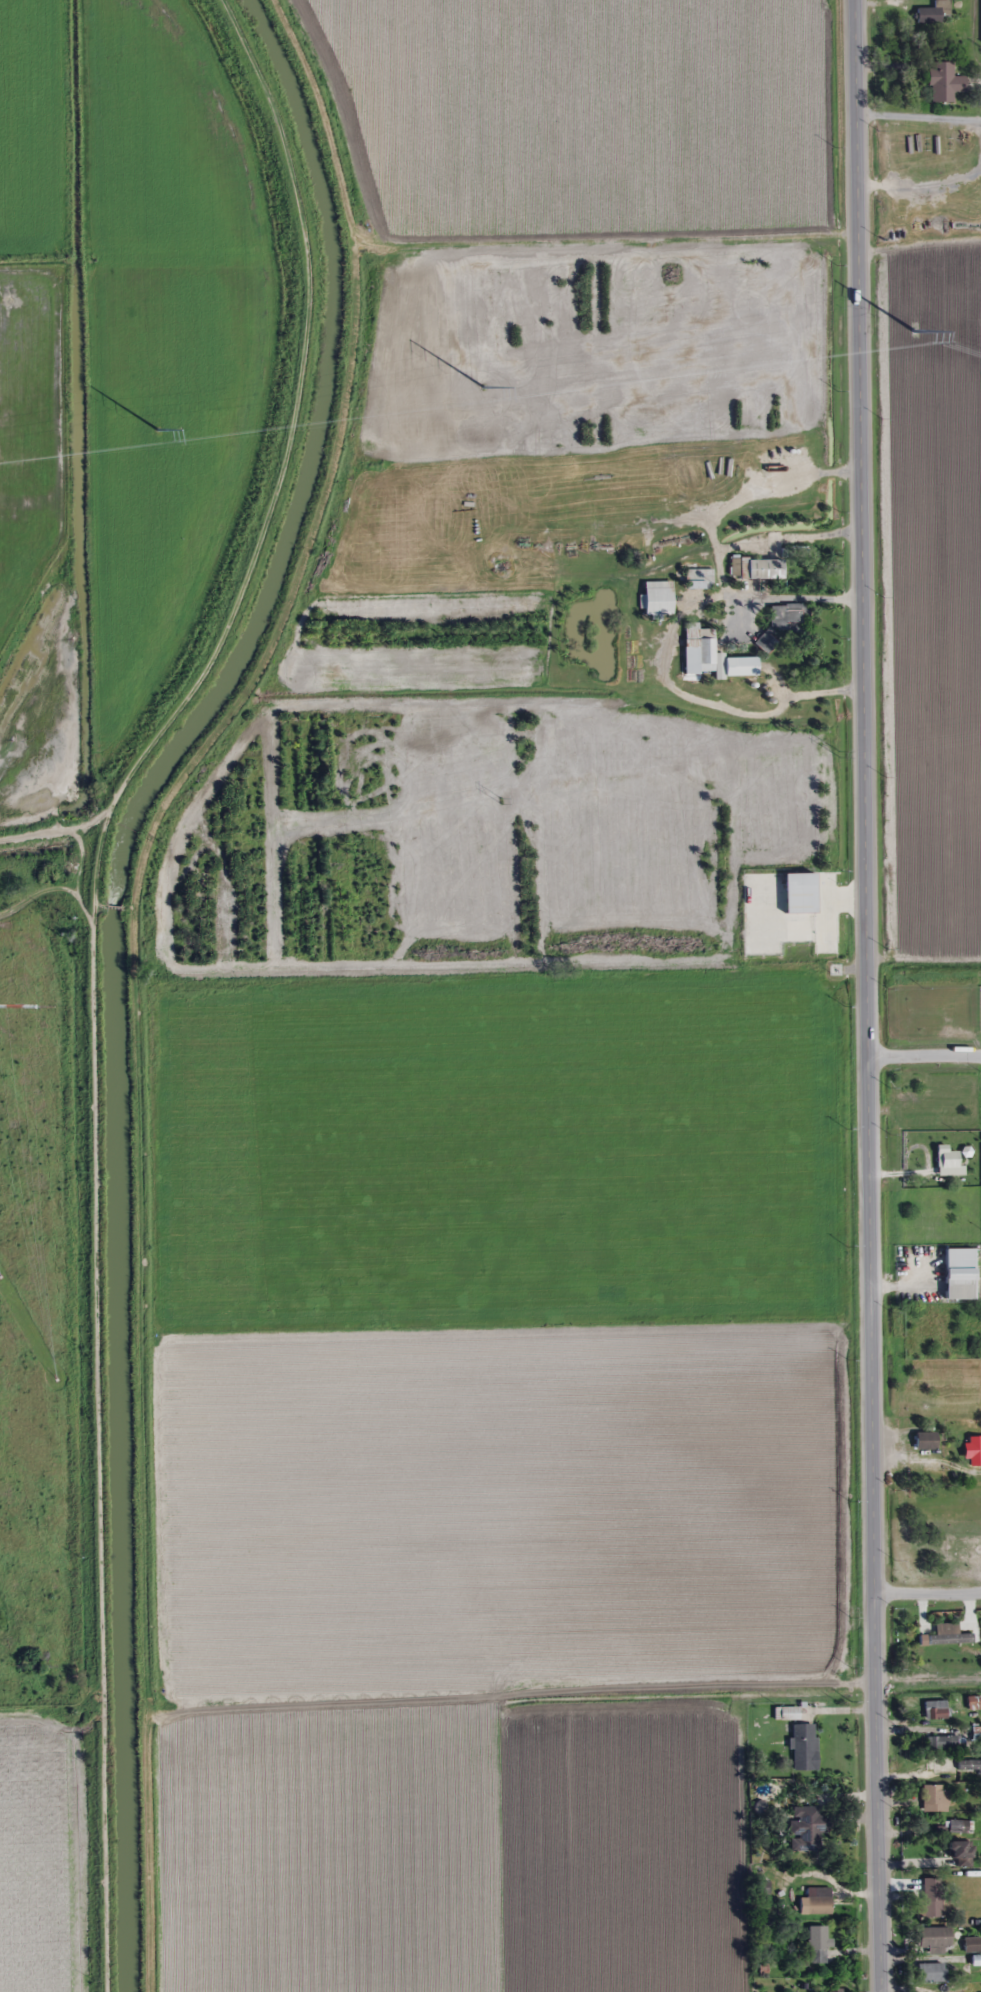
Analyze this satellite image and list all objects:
building: (934, 13)
building: (943, 82)
power tower: (915, 328)
power tower: (485, 385)
power tower: (158, 427)
building: (756, 568)
building: (699, 578)
building: (657, 601)
building: (787, 617)
building: (765, 641)
building: (699, 650)
building: (740, 667)
power tower: (839, 754)
power tower: (499, 801)
power tower: (163, 847)
road: (865, 996)
road: (923, 1054)
building: (947, 1160)
building: (927, 1440)
building: (974, 1451)
road: (927, 1594)
building: (973, 1703)
building: (935, 1710)
building: (941, 1742)
building: (804, 1747)
building: (969, 1765)
building: (933, 1798)
building: (958, 1826)
building: (808, 1827)
building: (960, 1853)
building: (932, 1900)
building: (816, 1901)
building: (933, 1938)
building: (818, 1945)
building: (972, 1945)
building: (976, 1961)
building: (932, 1973)

